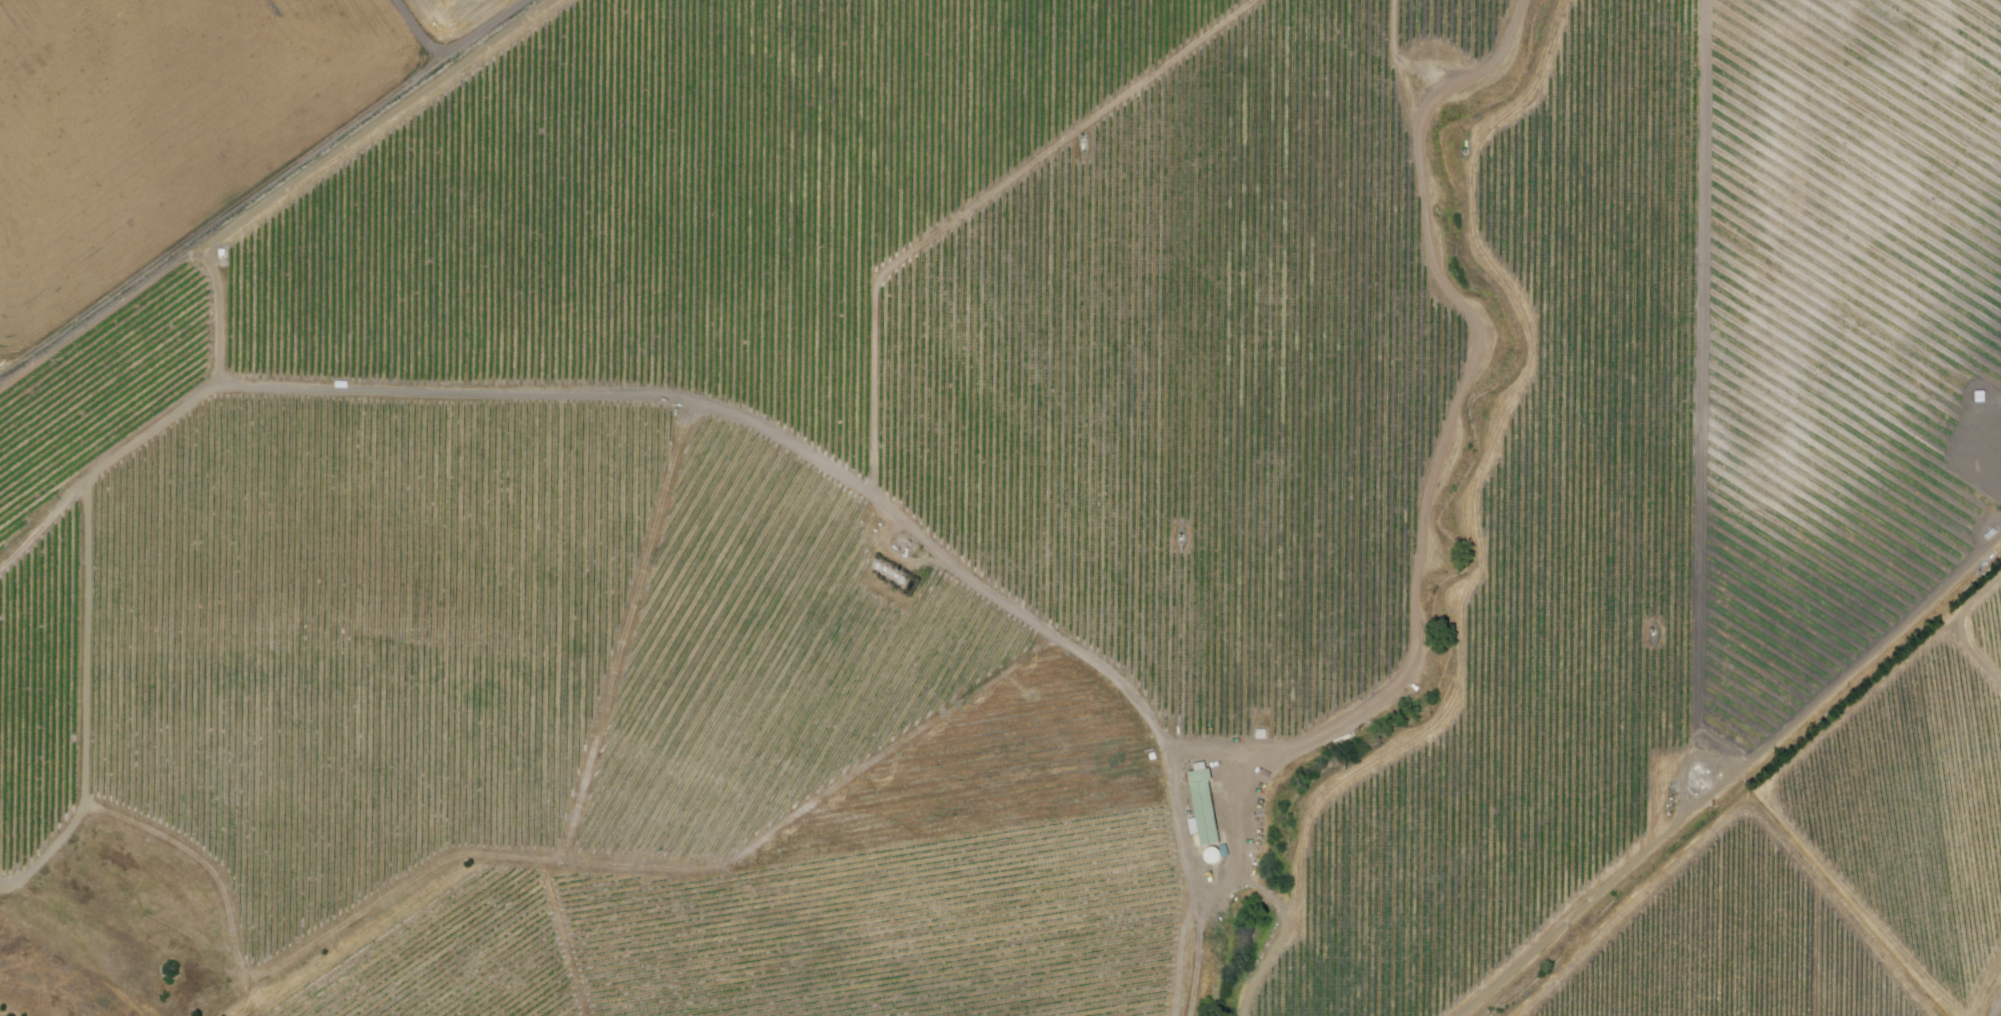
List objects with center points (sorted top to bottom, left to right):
crop: (171, 122)
building: (224, 256)
road: (1961, 632)
building: (1207, 806)
road: (155, 833)
road: (9, 889)
road: (1992, 1000)

